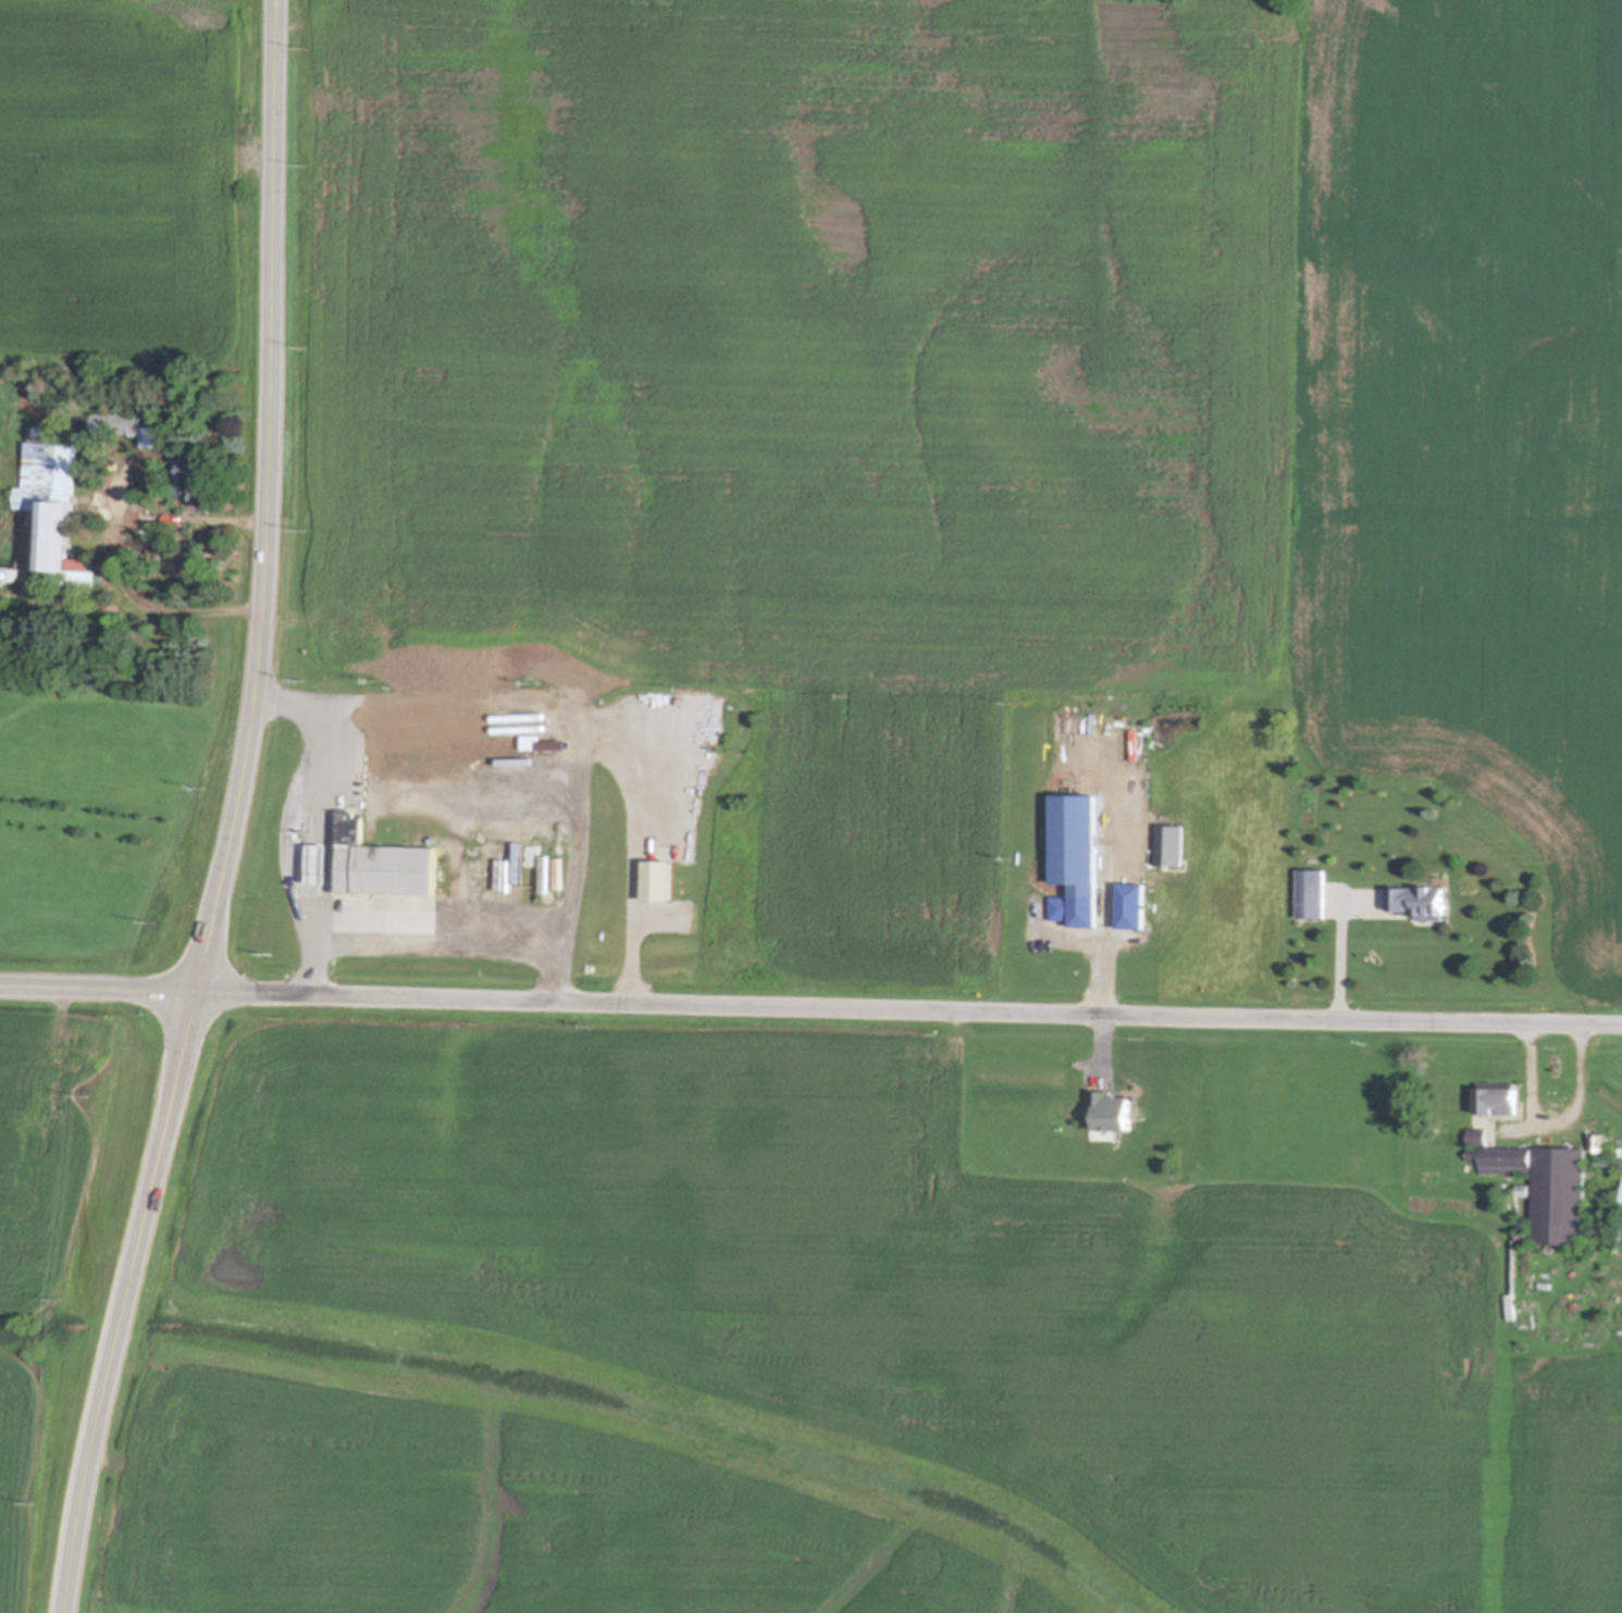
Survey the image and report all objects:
park: (226, 1)
road: (255, 172)
building: (40, 431)
building: (139, 433)
building: (198, 477)
road: (268, 499)
building: (53, 513)
road: (111, 556)
road: (578, 728)
road: (313, 820)
building: (380, 865)
building: (659, 881)
building: (1309, 895)
road: (632, 899)
building: (1414, 902)
road: (438, 936)
road: (1337, 959)
road: (810, 1005)
road: (1102, 1042)
building: (1500, 1096)
building: (1113, 1113)
road: (1547, 1128)
building: (1481, 1136)
building: (1601, 1141)
building: (1506, 1158)
building: (1505, 1187)
building: (1525, 1189)
building: (1562, 1194)
building: (1525, 1221)
building: (1525, 1236)
building: (1547, 1285)
road: (125, 1302)
building: (1513, 1306)

